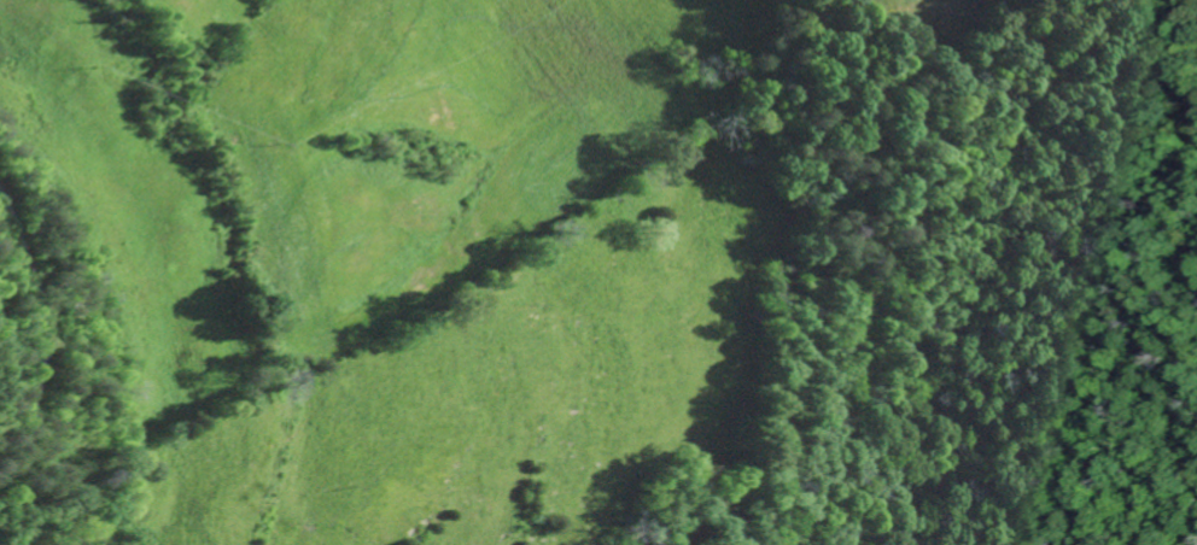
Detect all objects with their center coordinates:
road: (21, 352)

